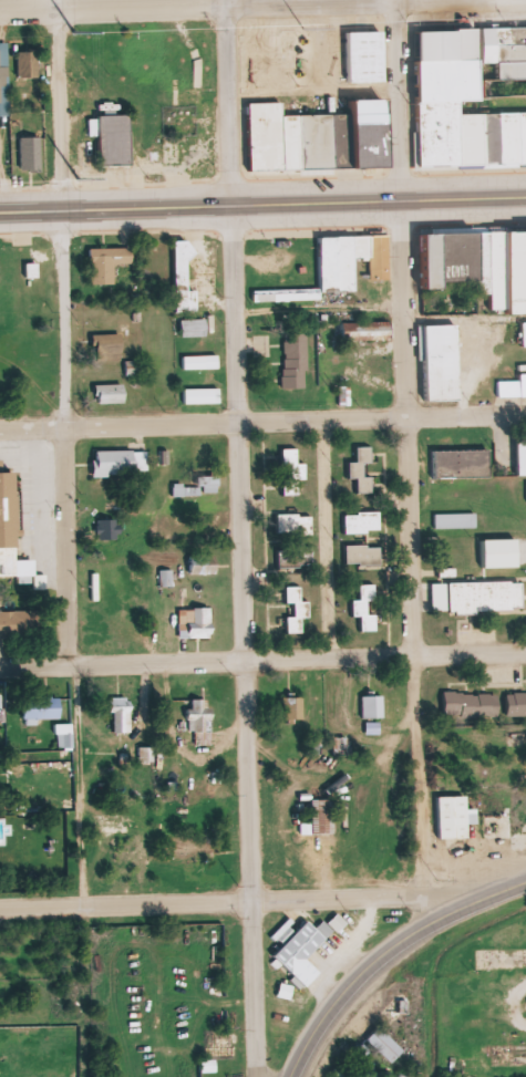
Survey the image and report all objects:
road: (56, 2)
road: (135, 3)
building: (365, 56)
building: (29, 63)
building: (0, 75)
building: (472, 97)
road: (402, 100)
road: (230, 102)
road: (59, 107)
building: (320, 136)
building: (116, 139)
building: (31, 153)
road: (262, 204)
building: (375, 252)
building: (107, 262)
building: (339, 262)
building: (481, 263)
building: (185, 278)
building: (194, 328)
building: (367, 330)
building: (524, 334)
building: (109, 346)
building: (296, 361)
building: (443, 361)
building: (200, 362)
building: (134, 370)
building: (513, 387)
building: (110, 393)
building: (200, 395)
road: (262, 424)
building: (522, 457)
building: (204, 458)
building: (121, 463)
building: (461, 464)
building: (293, 466)
building: (360, 469)
building: (210, 484)
building: (187, 490)
building: (455, 519)
building: (362, 521)
building: (293, 524)
building: (109, 529)
building: (11, 531)
road: (414, 546)
building: (295, 555)
building: (362, 555)
road: (68, 558)
building: (204, 565)
building: (166, 578)
building: (474, 597)
building: (364, 607)
building: (296, 609)
building: (101, 614)
building: (23, 623)
building: (195, 623)
road: (245, 641)
road: (262, 665)
building: (1, 702)
building: (516, 703)
building: (471, 705)
building: (373, 707)
building: (293, 708)
building: (41, 710)
building: (122, 715)
building: (202, 719)
building: (64, 736)
building: (340, 746)
building: (142, 754)
building: (322, 816)
building: (454, 817)
building: (116, 824)
building: (195, 847)
road: (240, 903)
building: (299, 951)
road: (388, 953)
building: (385, 1045)

